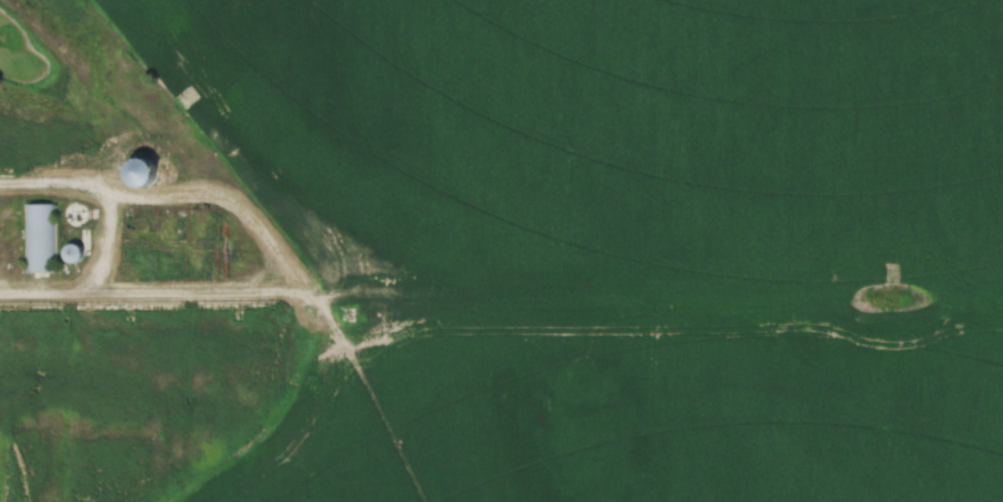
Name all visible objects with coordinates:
road: (107, 232)
building: (40, 238)
building: (73, 254)

